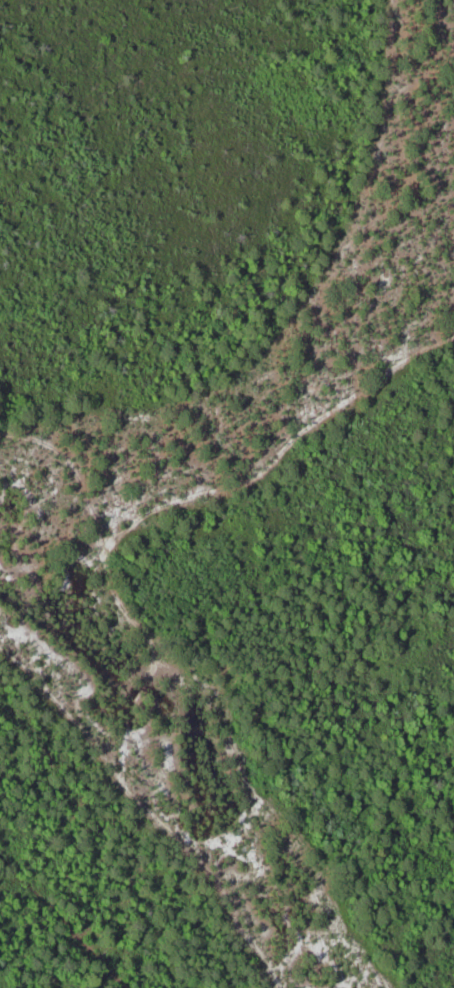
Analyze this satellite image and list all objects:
park: (39, 946)

